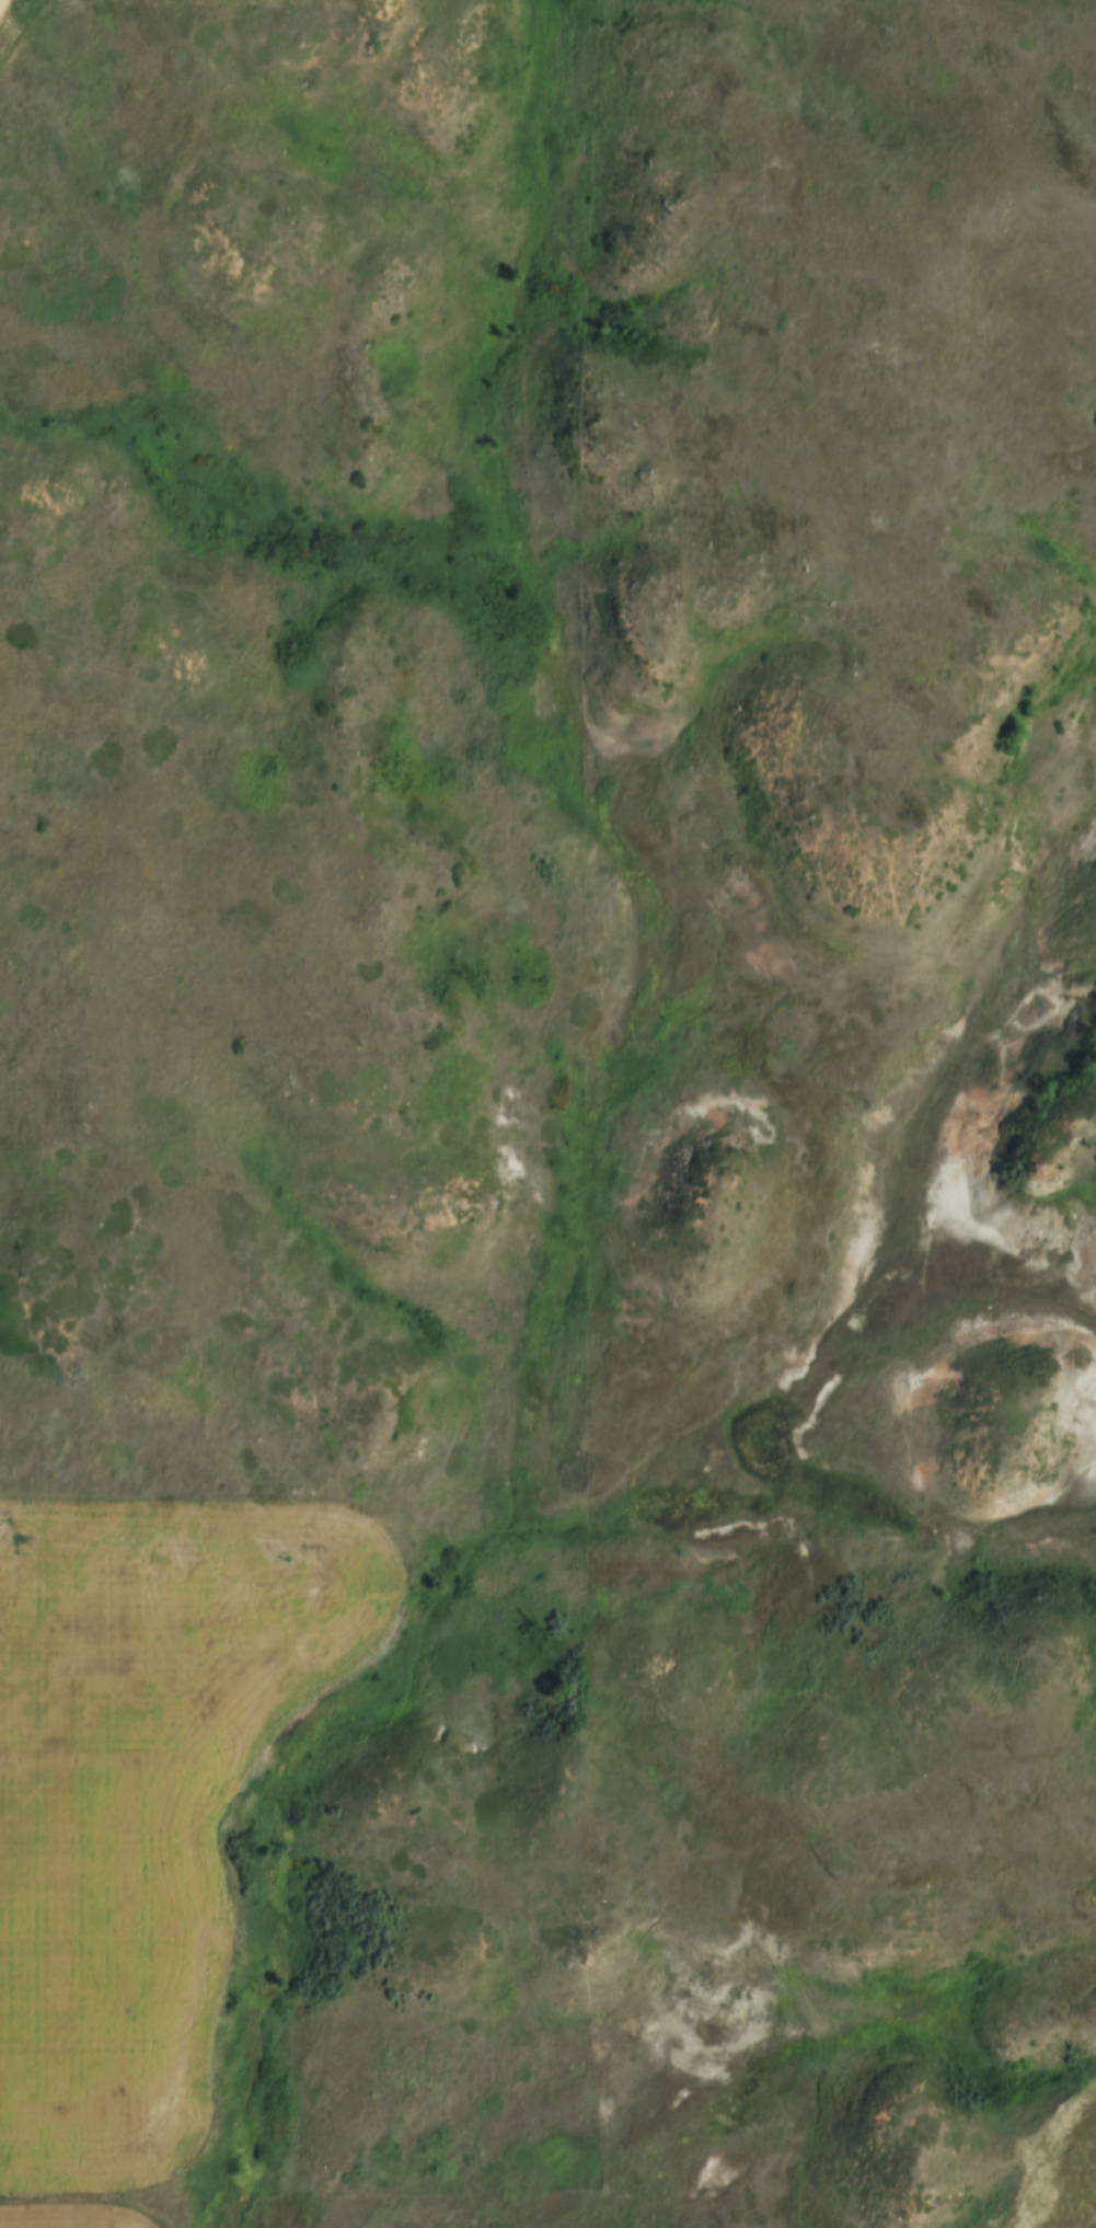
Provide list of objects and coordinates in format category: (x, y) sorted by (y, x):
road: (3, 4)

